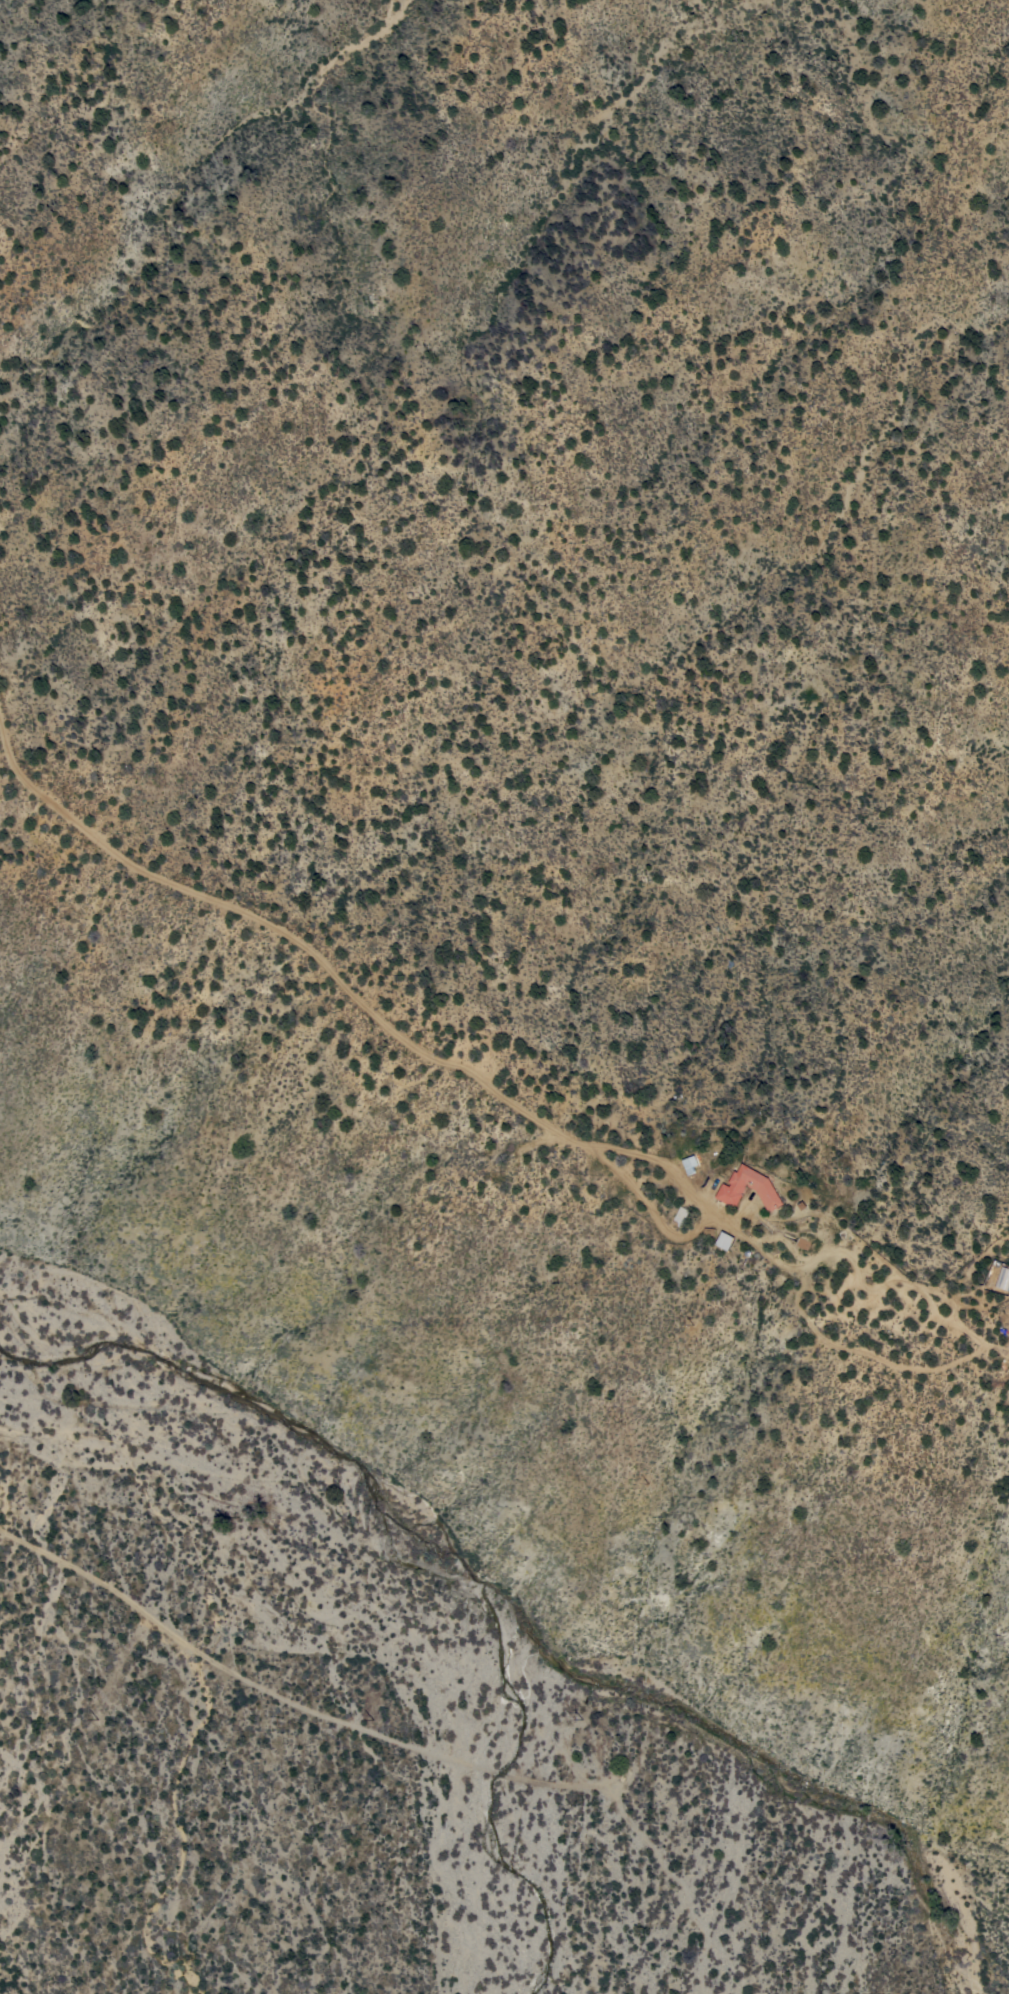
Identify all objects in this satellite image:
road: (292, 934)
building: (733, 1188)
building: (680, 1216)
building: (726, 1240)

